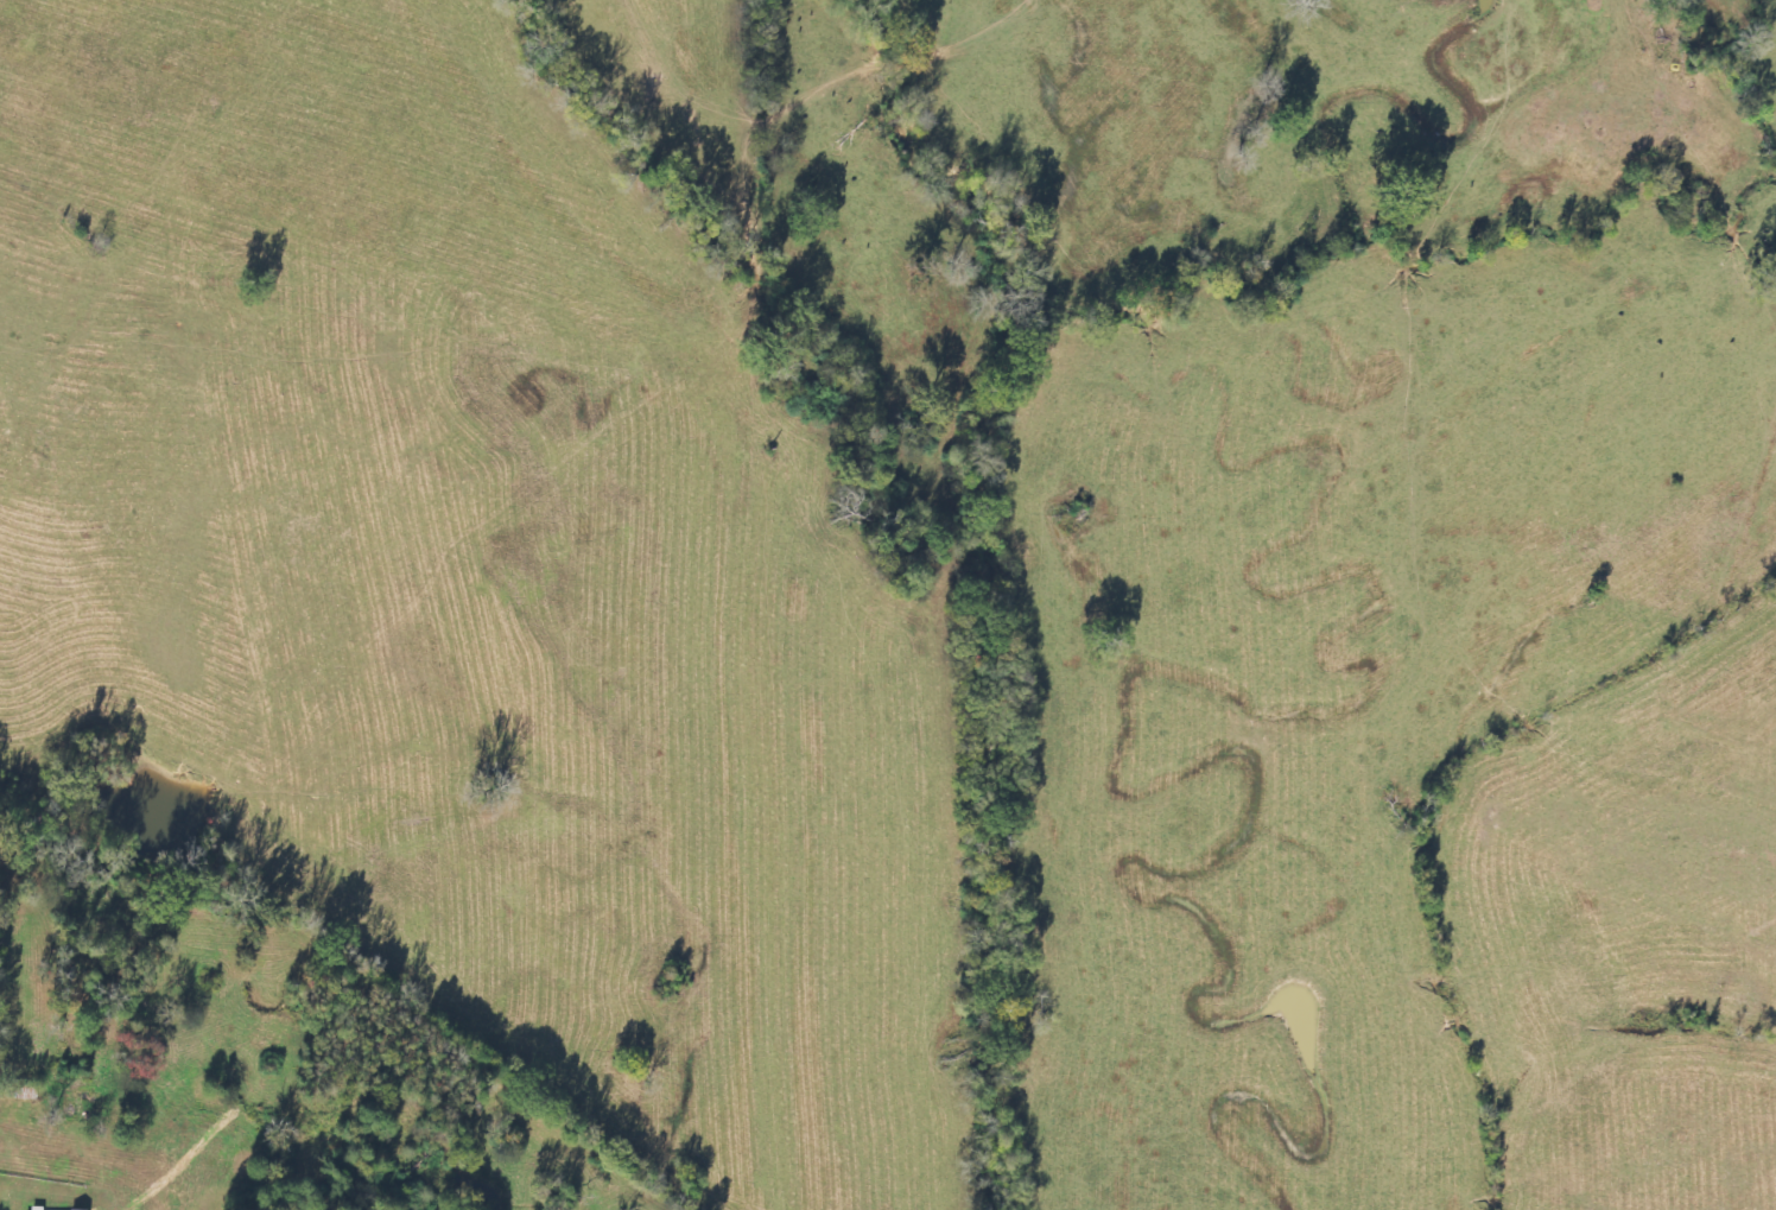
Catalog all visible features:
building: (34, 1208)
building: (70, 1209)

